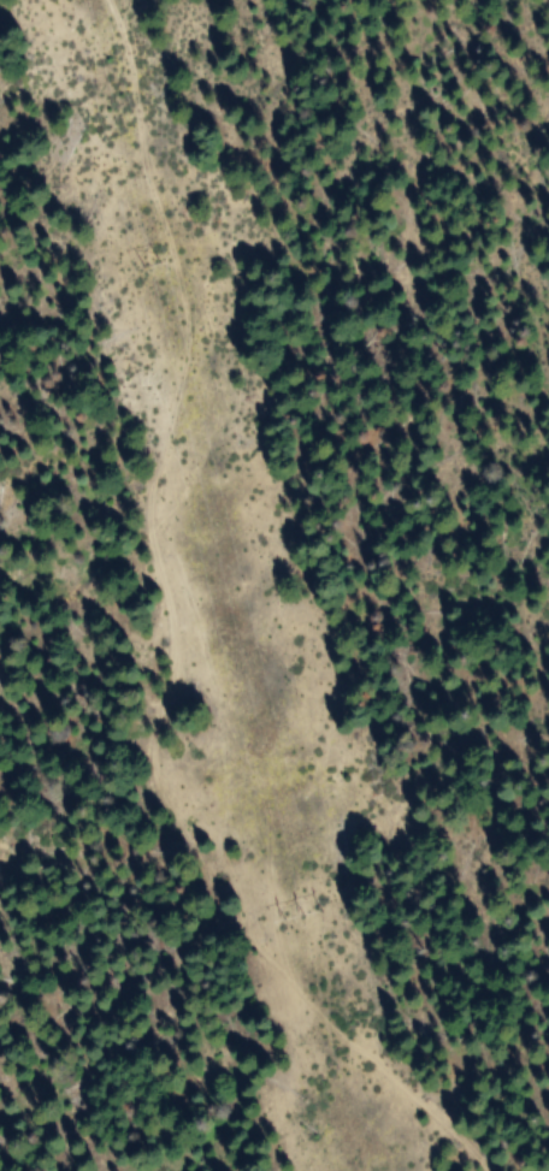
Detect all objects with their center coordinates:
power tower: (147, 265)
power tower: (294, 915)

